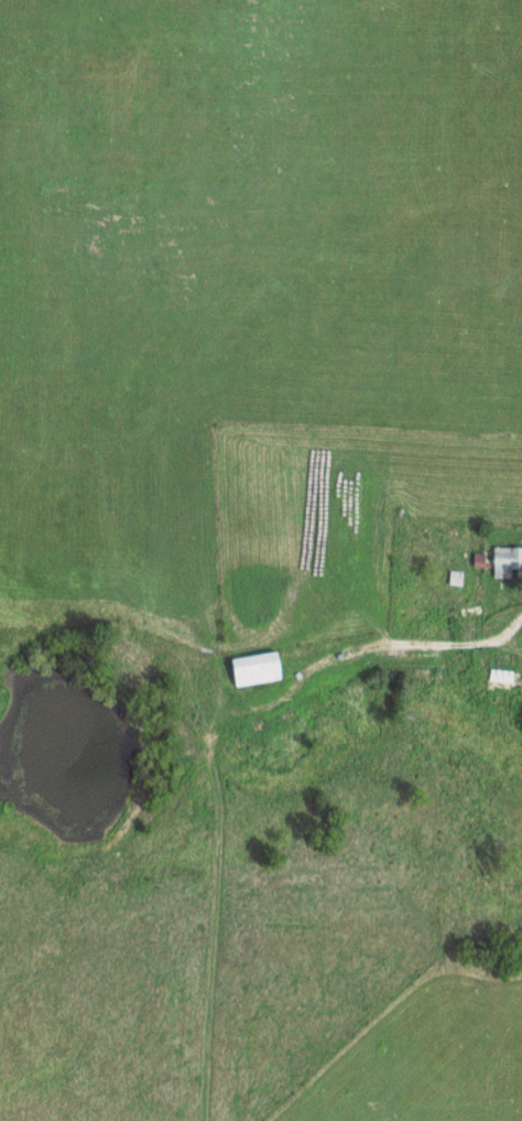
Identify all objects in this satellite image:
building: (508, 560)
building: (262, 667)

